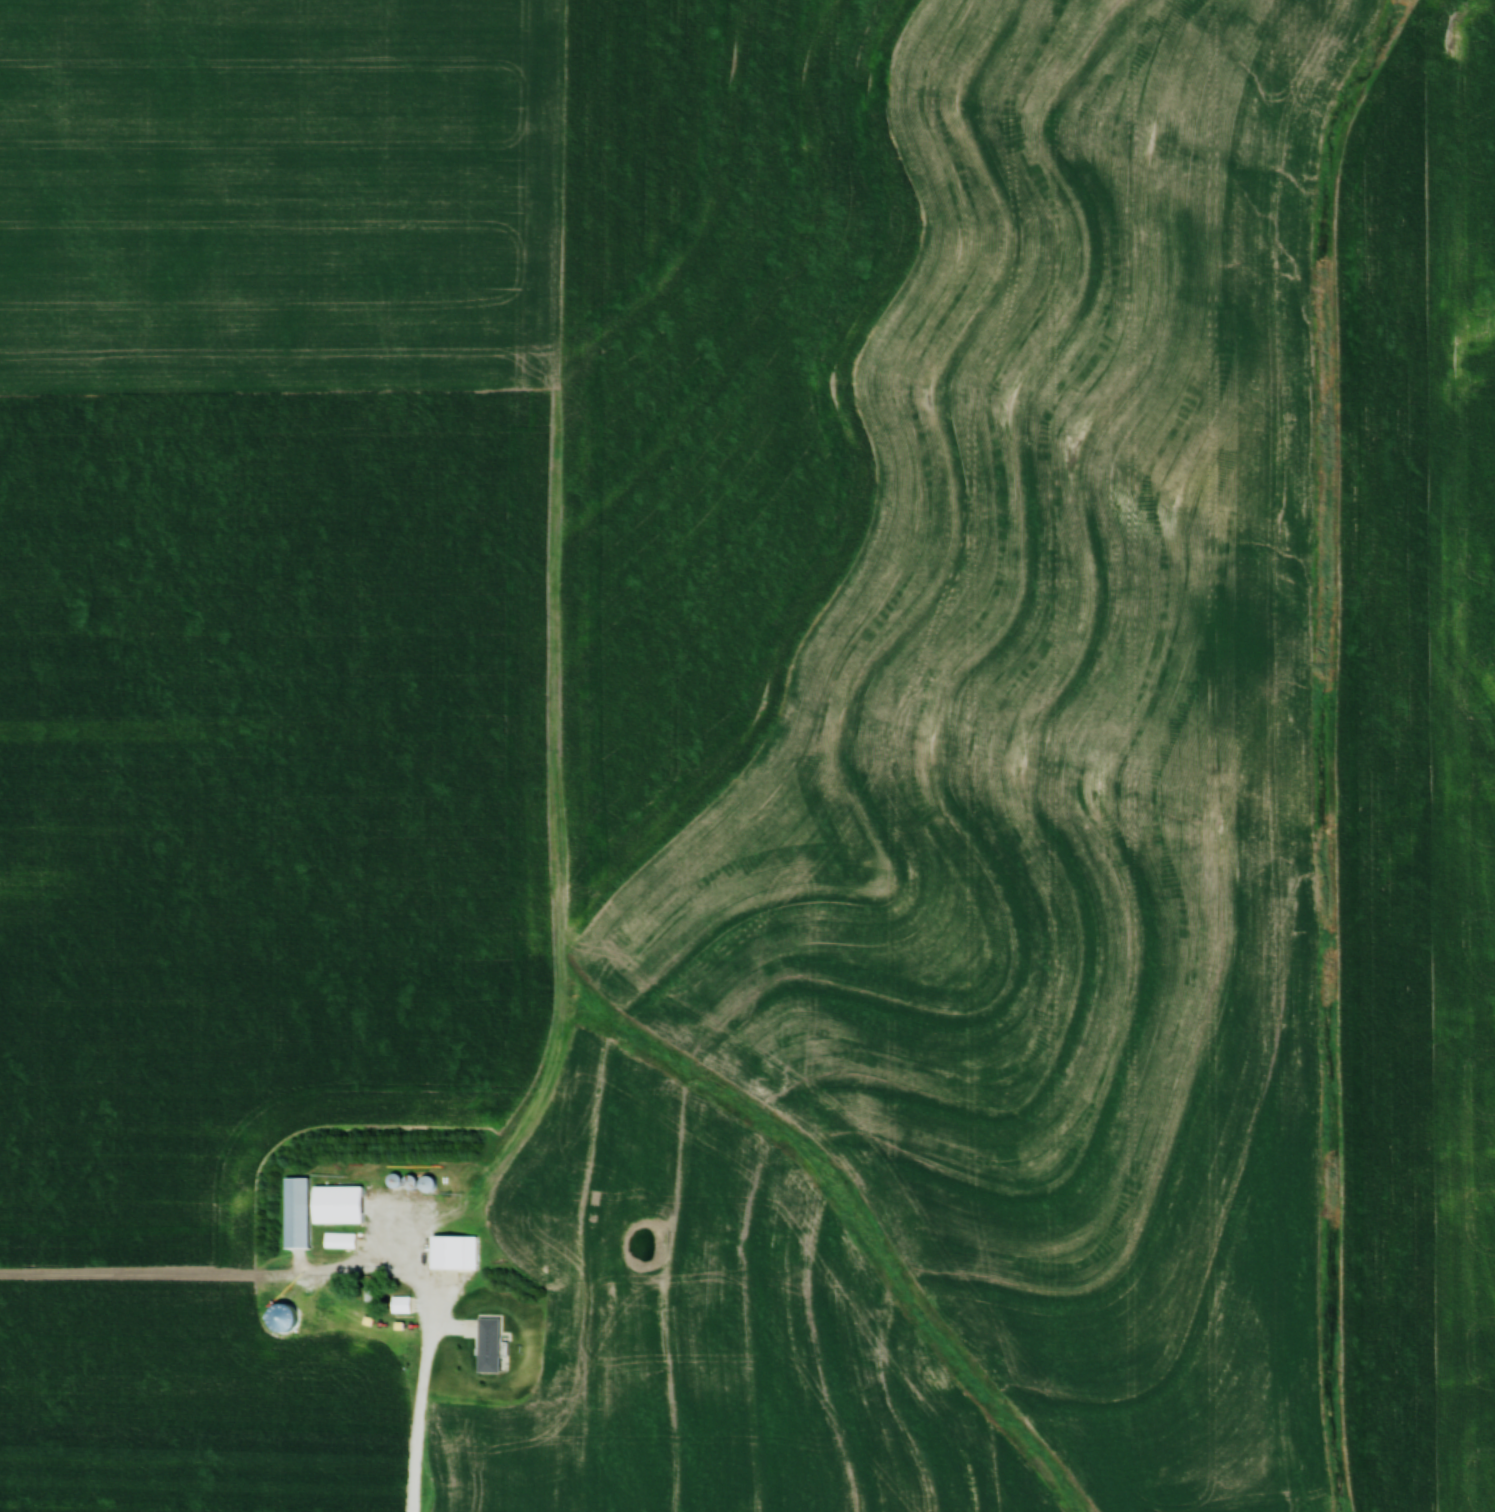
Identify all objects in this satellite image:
building: (313, 1207)
building: (337, 1240)
building: (449, 1252)
building: (397, 1304)
building: (483, 1342)
road: (424, 1397)

